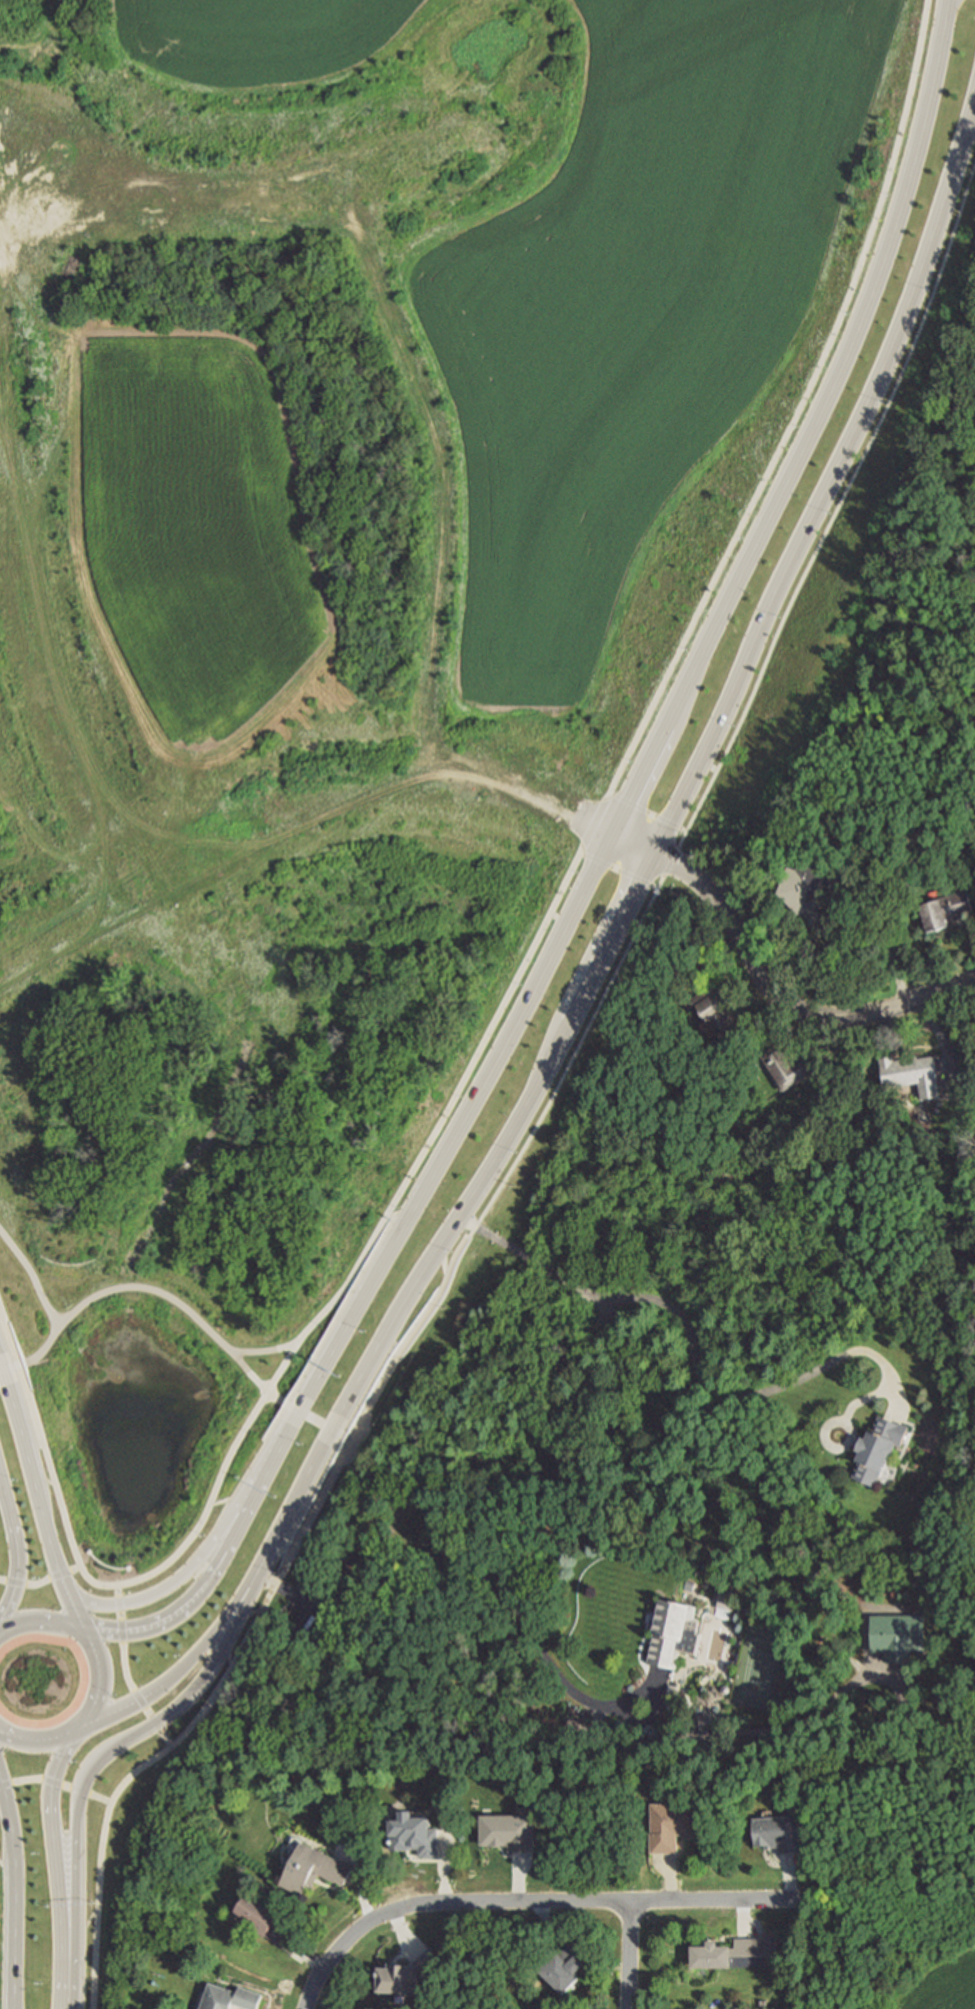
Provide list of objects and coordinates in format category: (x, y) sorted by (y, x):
road: (898, 324)
crop: (363, 548)
road: (692, 620)
road: (722, 703)
road: (645, 766)
road: (622, 833)
building: (807, 883)
building: (945, 907)
road: (870, 910)
road: (592, 972)
road: (786, 993)
building: (716, 1009)
road: (577, 1043)
building: (787, 1064)
building: (912, 1071)
road: (443, 1267)
road: (32, 1275)
road: (162, 1293)
road: (385, 1333)
road: (698, 1350)
road: (264, 1351)
road: (865, 1400)
park: (160, 1406)
road: (20, 1415)
road: (835, 1422)
road: (350, 1442)
building: (879, 1451)
road: (48, 1481)
road: (231, 1500)
road: (185, 1548)
road: (21, 1554)
road: (55, 1555)
road: (42, 1583)
road: (172, 1586)
road: (475, 1590)
road: (194, 1600)
building: (727, 1602)
road: (260, 1617)
road: (219, 1628)
building: (676, 1635)
road: (128, 1672)
road: (101, 1680)
road: (132, 1703)
road: (111, 1748)
road: (0, 1775)
road: (57, 1784)
road: (9, 1823)
building: (673, 1826)
building: (511, 1832)
building: (779, 1834)
building: (415, 1836)
road: (446, 1862)
road: (57, 1866)
road: (7, 1869)
building: (314, 1870)
road: (671, 1876)
road: (790, 1876)
road: (519, 1877)
road: (364, 1878)
crop: (1, 1899)
road: (525, 1900)
building: (258, 1915)
road: (743, 1917)
road: (548, 1922)
road: (86, 1928)
road: (404, 1934)
road: (13, 1944)
road: (299, 1951)
building: (727, 1953)
road: (629, 1954)
building: (565, 1967)
building: (407, 1975)
crop: (941, 1985)
building: (232, 1999)

